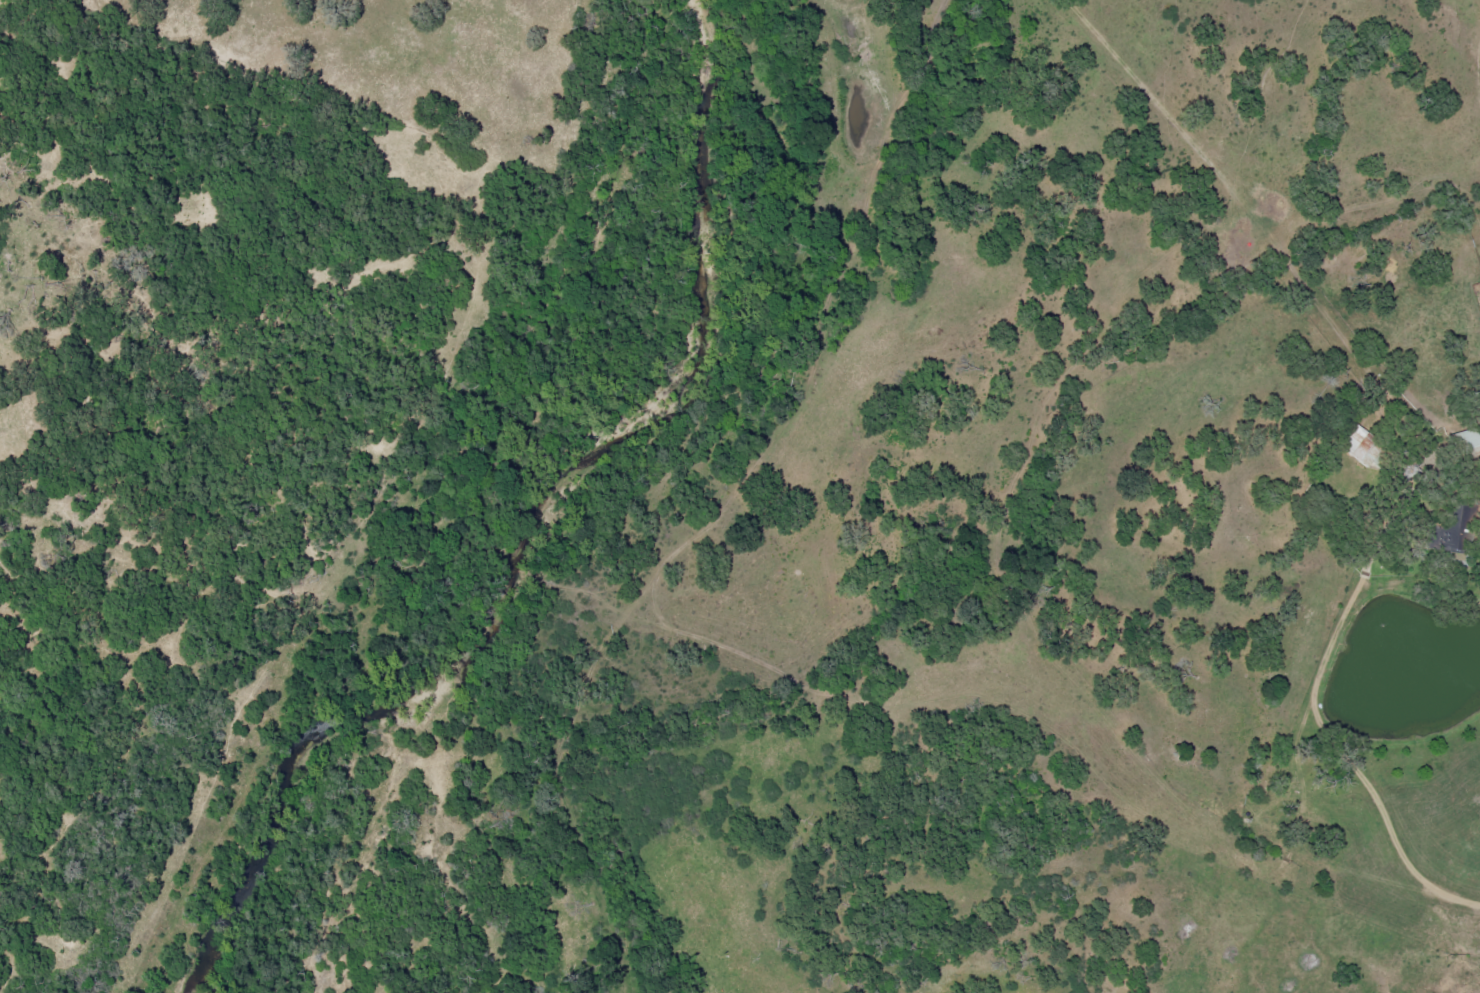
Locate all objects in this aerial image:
building: (1470, 444)
building: (1358, 446)

